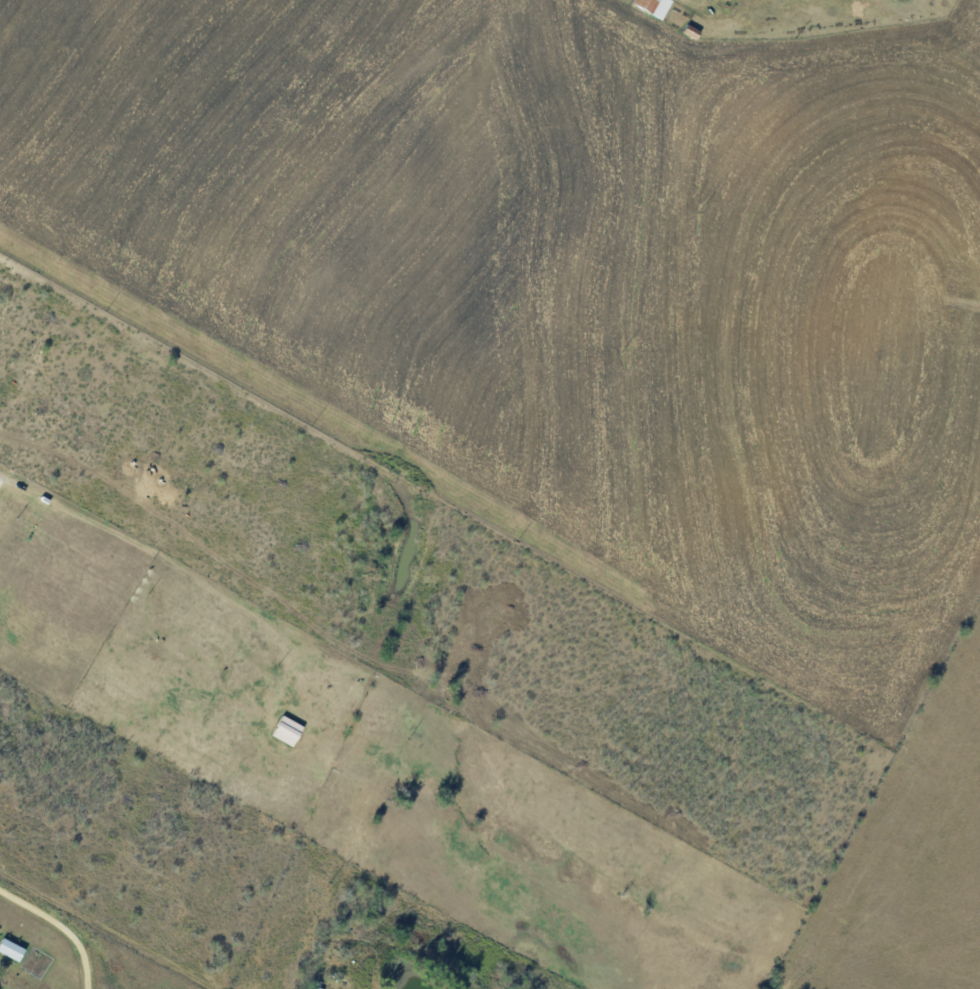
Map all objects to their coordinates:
building: (656, 6)
road: (65, 923)
building: (13, 948)

